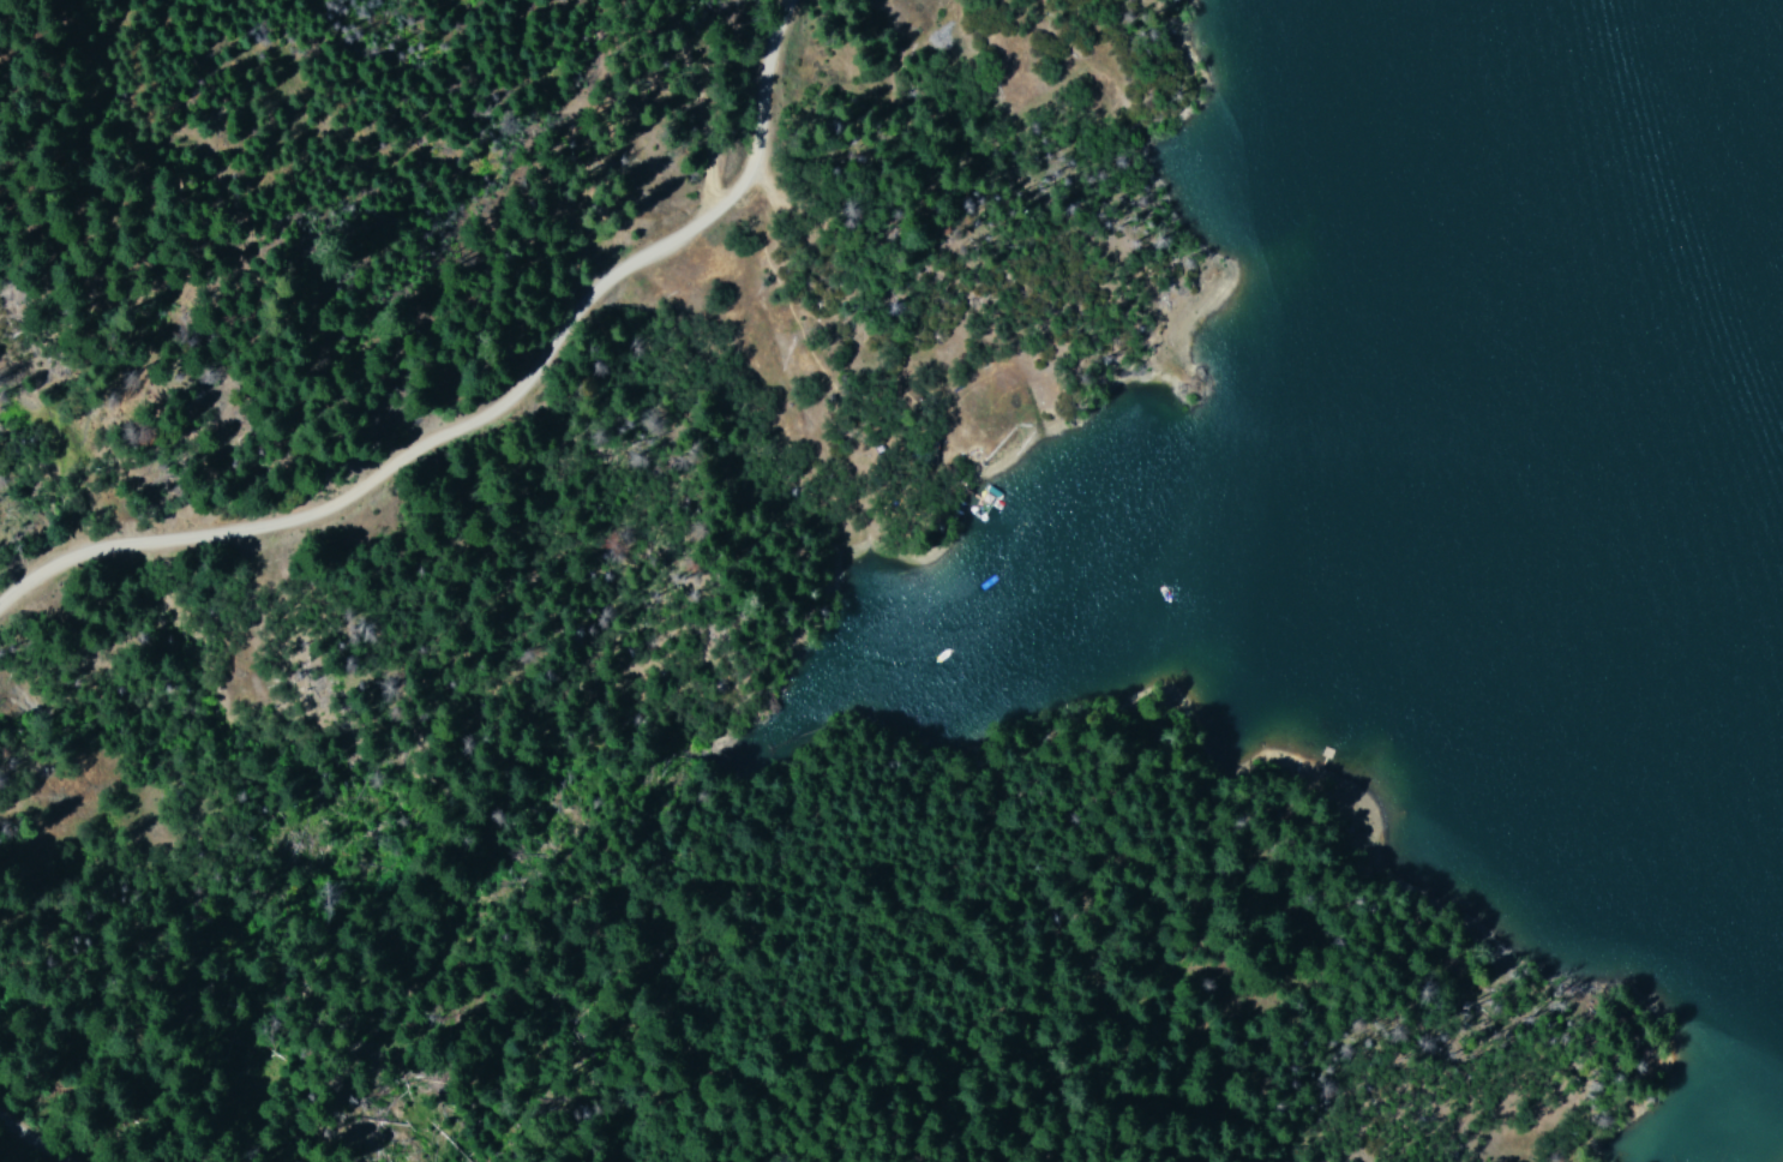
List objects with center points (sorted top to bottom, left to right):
river: (1620, 80)
river: (1721, 250)
road: (517, 443)
road: (1034, 1120)
road: (19, 1148)

